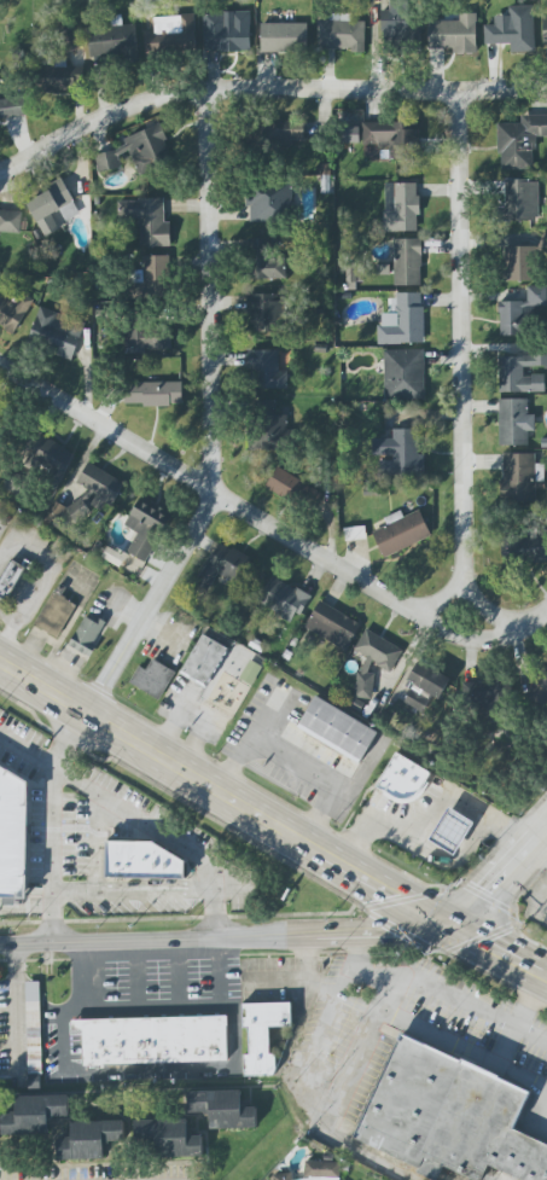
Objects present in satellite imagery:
building: (396, 23)
building: (513, 29)
building: (226, 31)
building: (454, 34)
building: (171, 35)
building: (342, 35)
building: (284, 37)
building: (69, 40)
building: (112, 42)
building: (59, 77)
road: (263, 87)
building: (12, 106)
building: (283, 130)
building: (349, 134)
building: (394, 138)
building: (520, 141)
building: (138, 151)
building: (522, 199)
building: (269, 202)
building: (52, 207)
building: (401, 207)
building: (147, 220)
building: (10, 221)
building: (264, 261)
building: (407, 262)
building: (518, 263)
building: (354, 275)
building: (156, 277)
building: (264, 309)
building: (523, 310)
building: (13, 312)
building: (402, 320)
building: (56, 332)
building: (147, 338)
road: (461, 345)
building: (267, 371)
building: (522, 372)
building: (405, 374)
building: (152, 393)
road: (208, 419)
building: (514, 422)
building: (272, 432)
building: (398, 454)
building: (50, 459)
building: (519, 477)
building: (284, 483)
building: (87, 496)
road: (270, 527)
building: (146, 528)
building: (401, 533)
building: (354, 535)
building: (523, 546)
building: (111, 557)
building: (222, 565)
building: (10, 579)
road: (42, 580)
building: (284, 599)
building: (56, 614)
building: (332, 626)
building: (87, 634)
road: (464, 640)
building: (256, 646)
building: (286, 656)
building: (373, 661)
building: (202, 662)
building: (249, 673)
building: (151, 679)
building: (429, 680)
building: (540, 690)
building: (484, 696)
building: (418, 699)
building: (356, 705)
building: (337, 731)
building: (402, 779)
road: (433, 814)
road: (135, 818)
road: (52, 825)
road: (269, 829)
building: (452, 831)
building: (13, 833)
road: (97, 845)
road: (542, 850)
building: (138, 864)
road: (495, 890)
road: (132, 894)
road: (545, 902)
road: (25, 907)
traffic signals: (430, 922)
road: (215, 935)
road: (146, 955)
road: (215, 969)
road: (437, 990)
road: (122, 1005)
road: (16, 1013)
building: (31, 1029)
building: (263, 1035)
building: (152, 1040)
road: (310, 1048)
road: (464, 1054)
road: (357, 1056)
road: (145, 1073)
building: (33, 1082)
building: (222, 1109)
building: (33, 1115)
building: (448, 1116)
road: (545, 1130)
road: (545, 1135)
building: (168, 1138)
building: (89, 1139)
road: (365, 1157)
building: (321, 1170)
building: (284, 1176)

